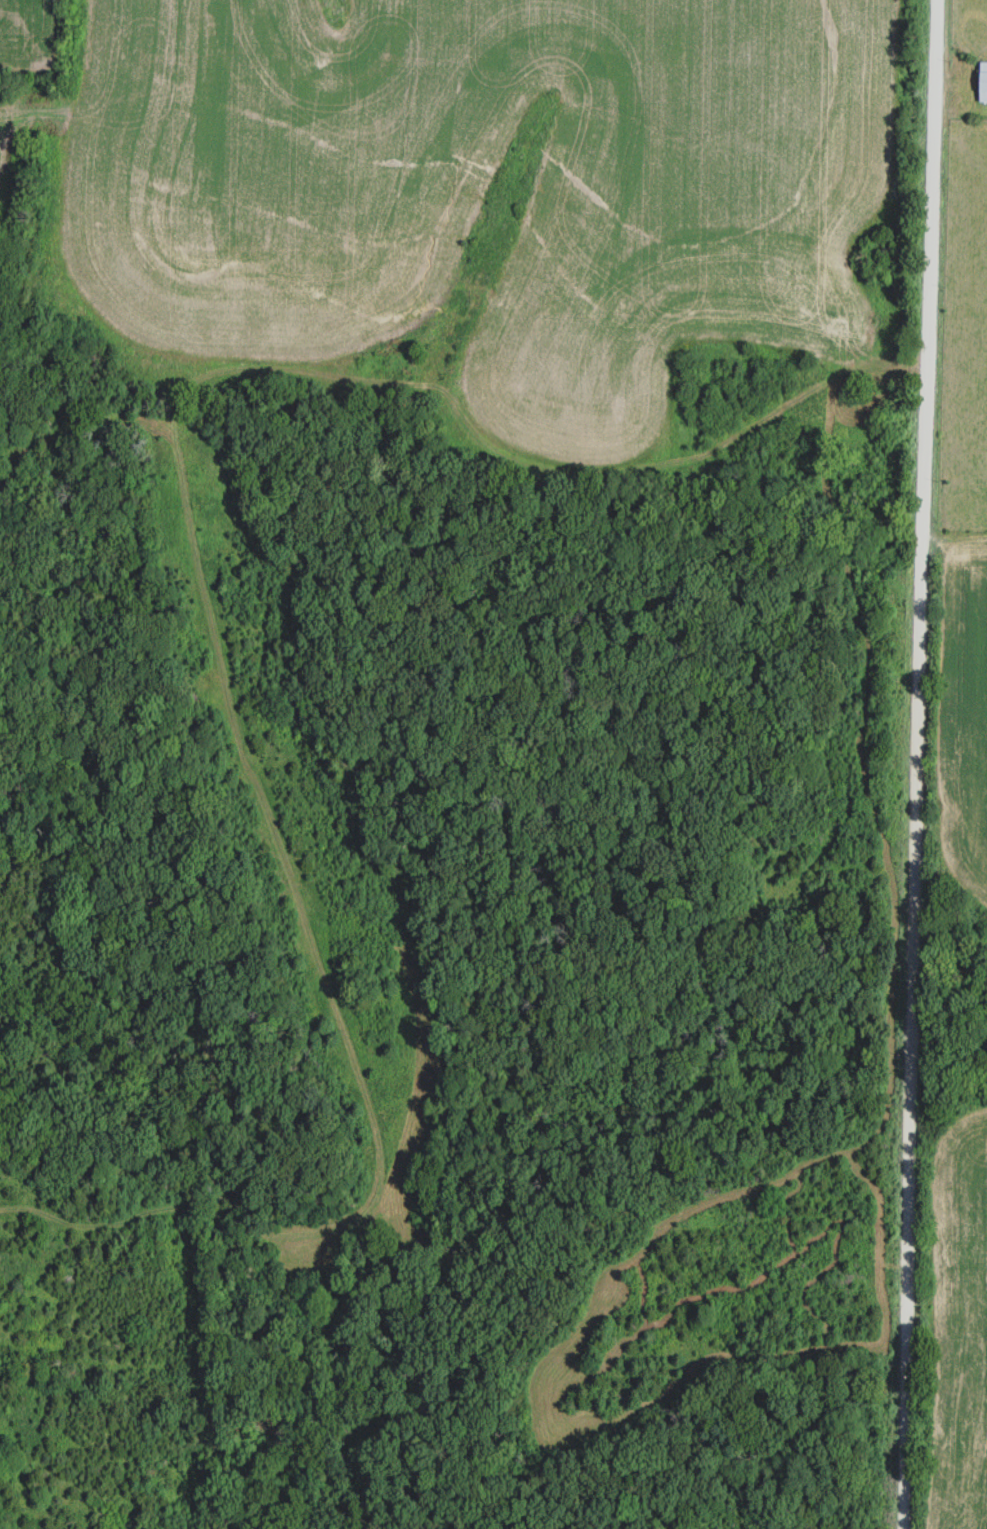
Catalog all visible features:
building: (983, 81)
road: (955, 541)
road: (918, 764)

